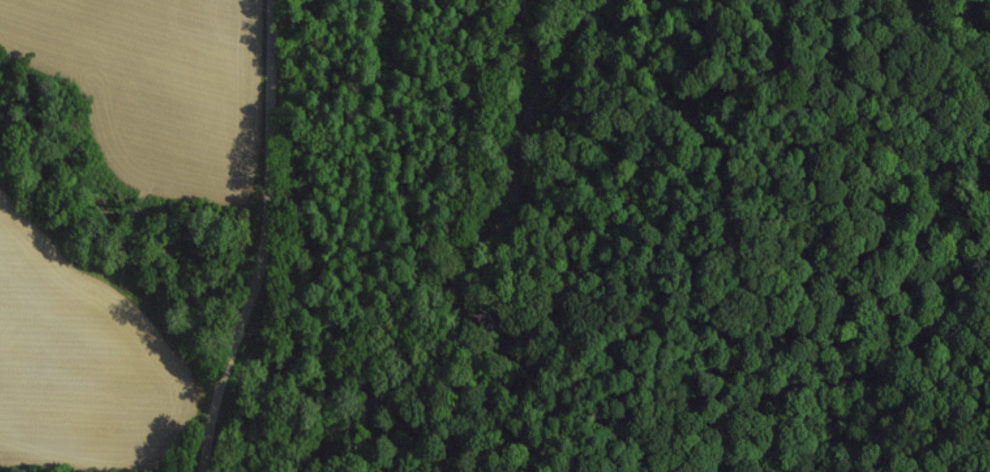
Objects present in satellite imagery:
road: (266, 241)

